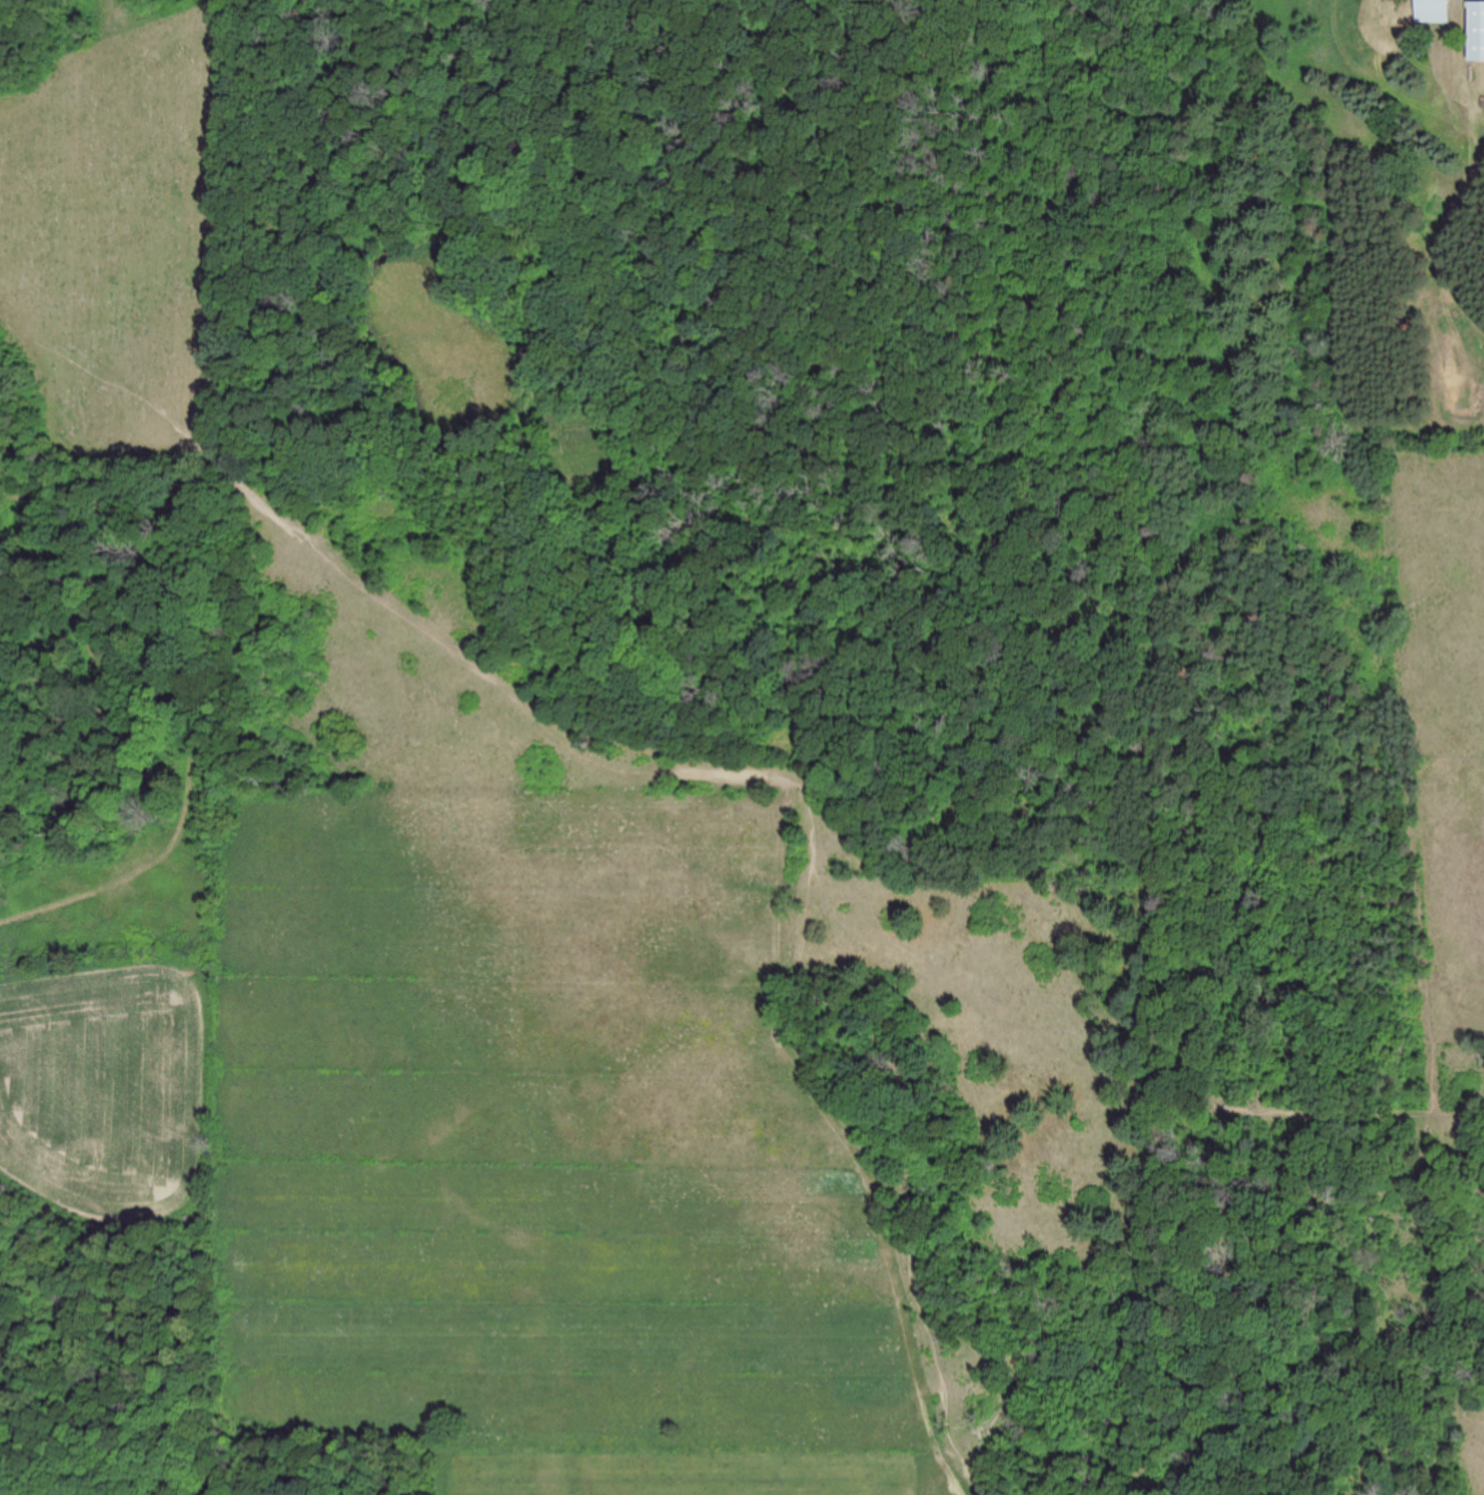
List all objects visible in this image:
building: (1433, 12)
building: (1476, 33)

